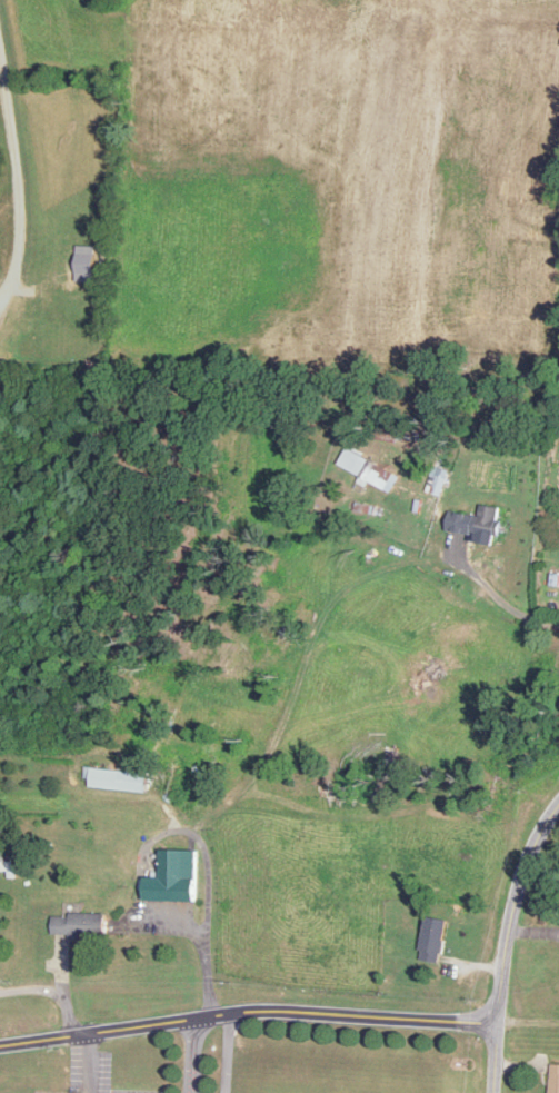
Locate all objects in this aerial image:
road: (14, 179)
building: (546, 265)
building: (368, 469)
building: (490, 520)
building: (465, 523)
road: (493, 594)
building: (133, 779)
building: (9, 864)
building: (172, 878)
road: (207, 910)
building: (89, 924)
building: (433, 940)
road: (503, 941)
road: (51, 986)
road: (247, 1011)
road: (223, 1053)
road: (191, 1056)
road: (84, 1063)
building: (556, 1079)

